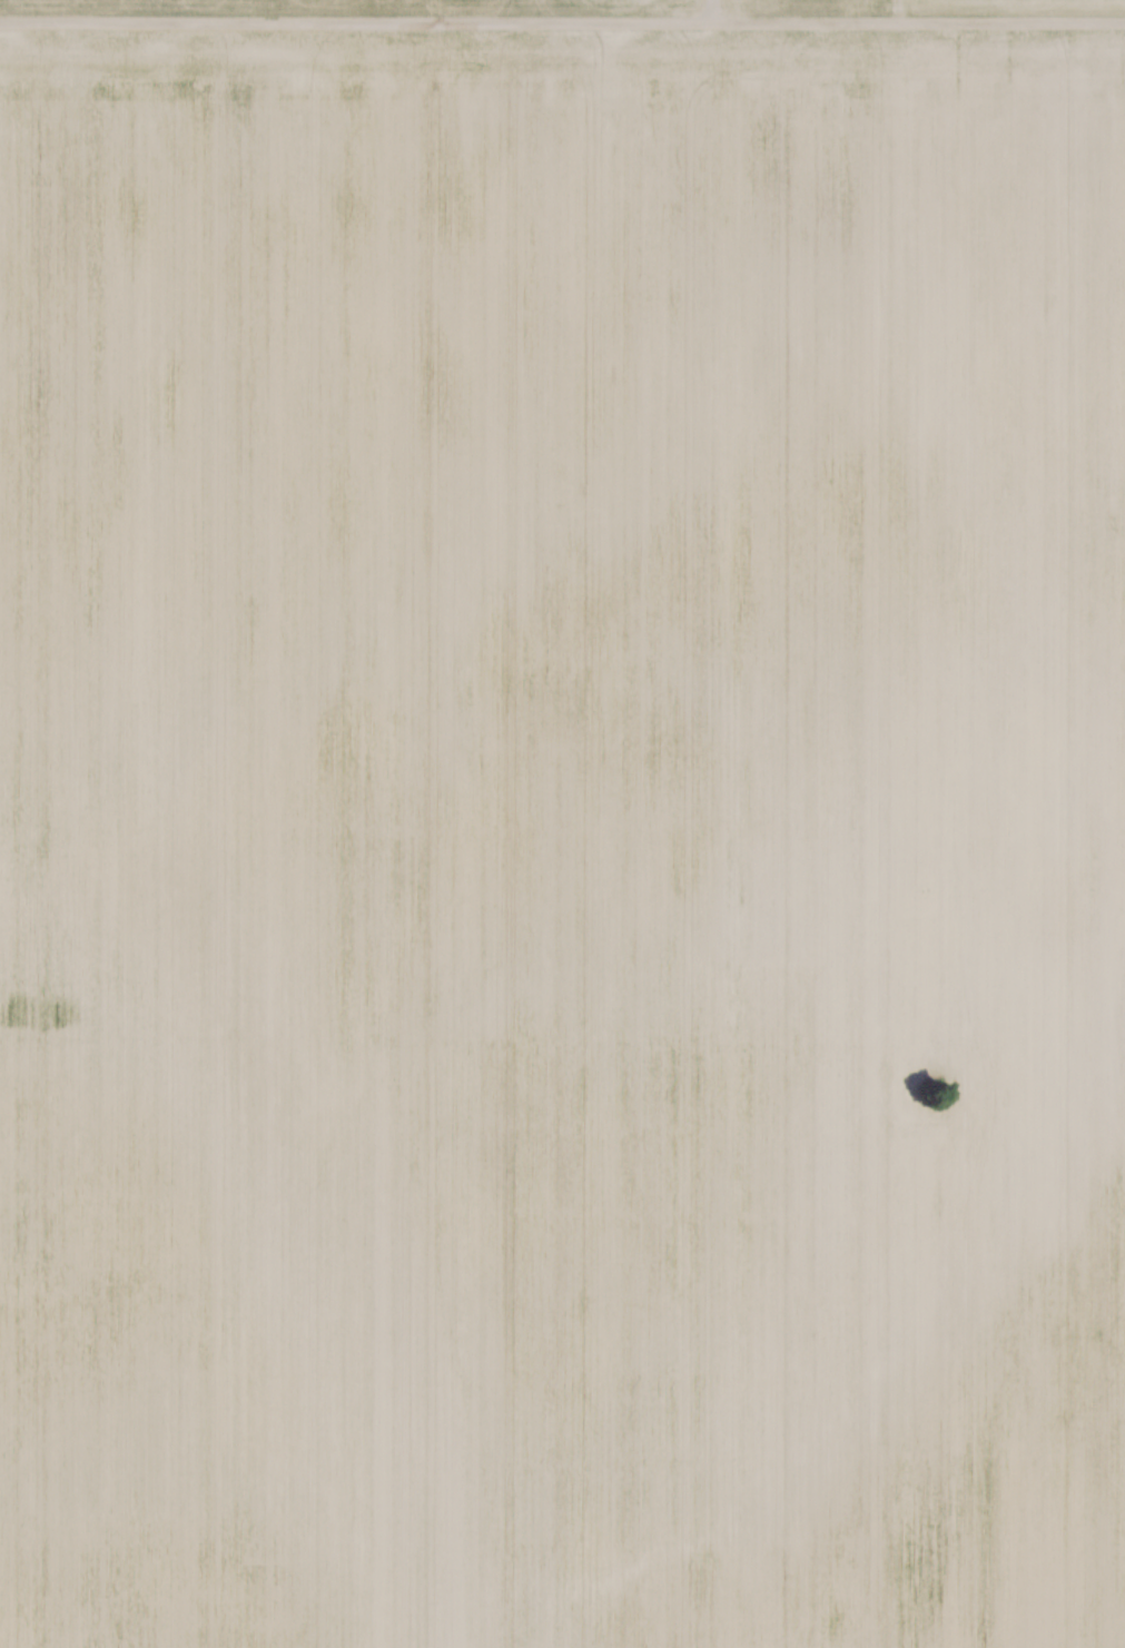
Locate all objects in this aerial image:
road: (562, 24)

